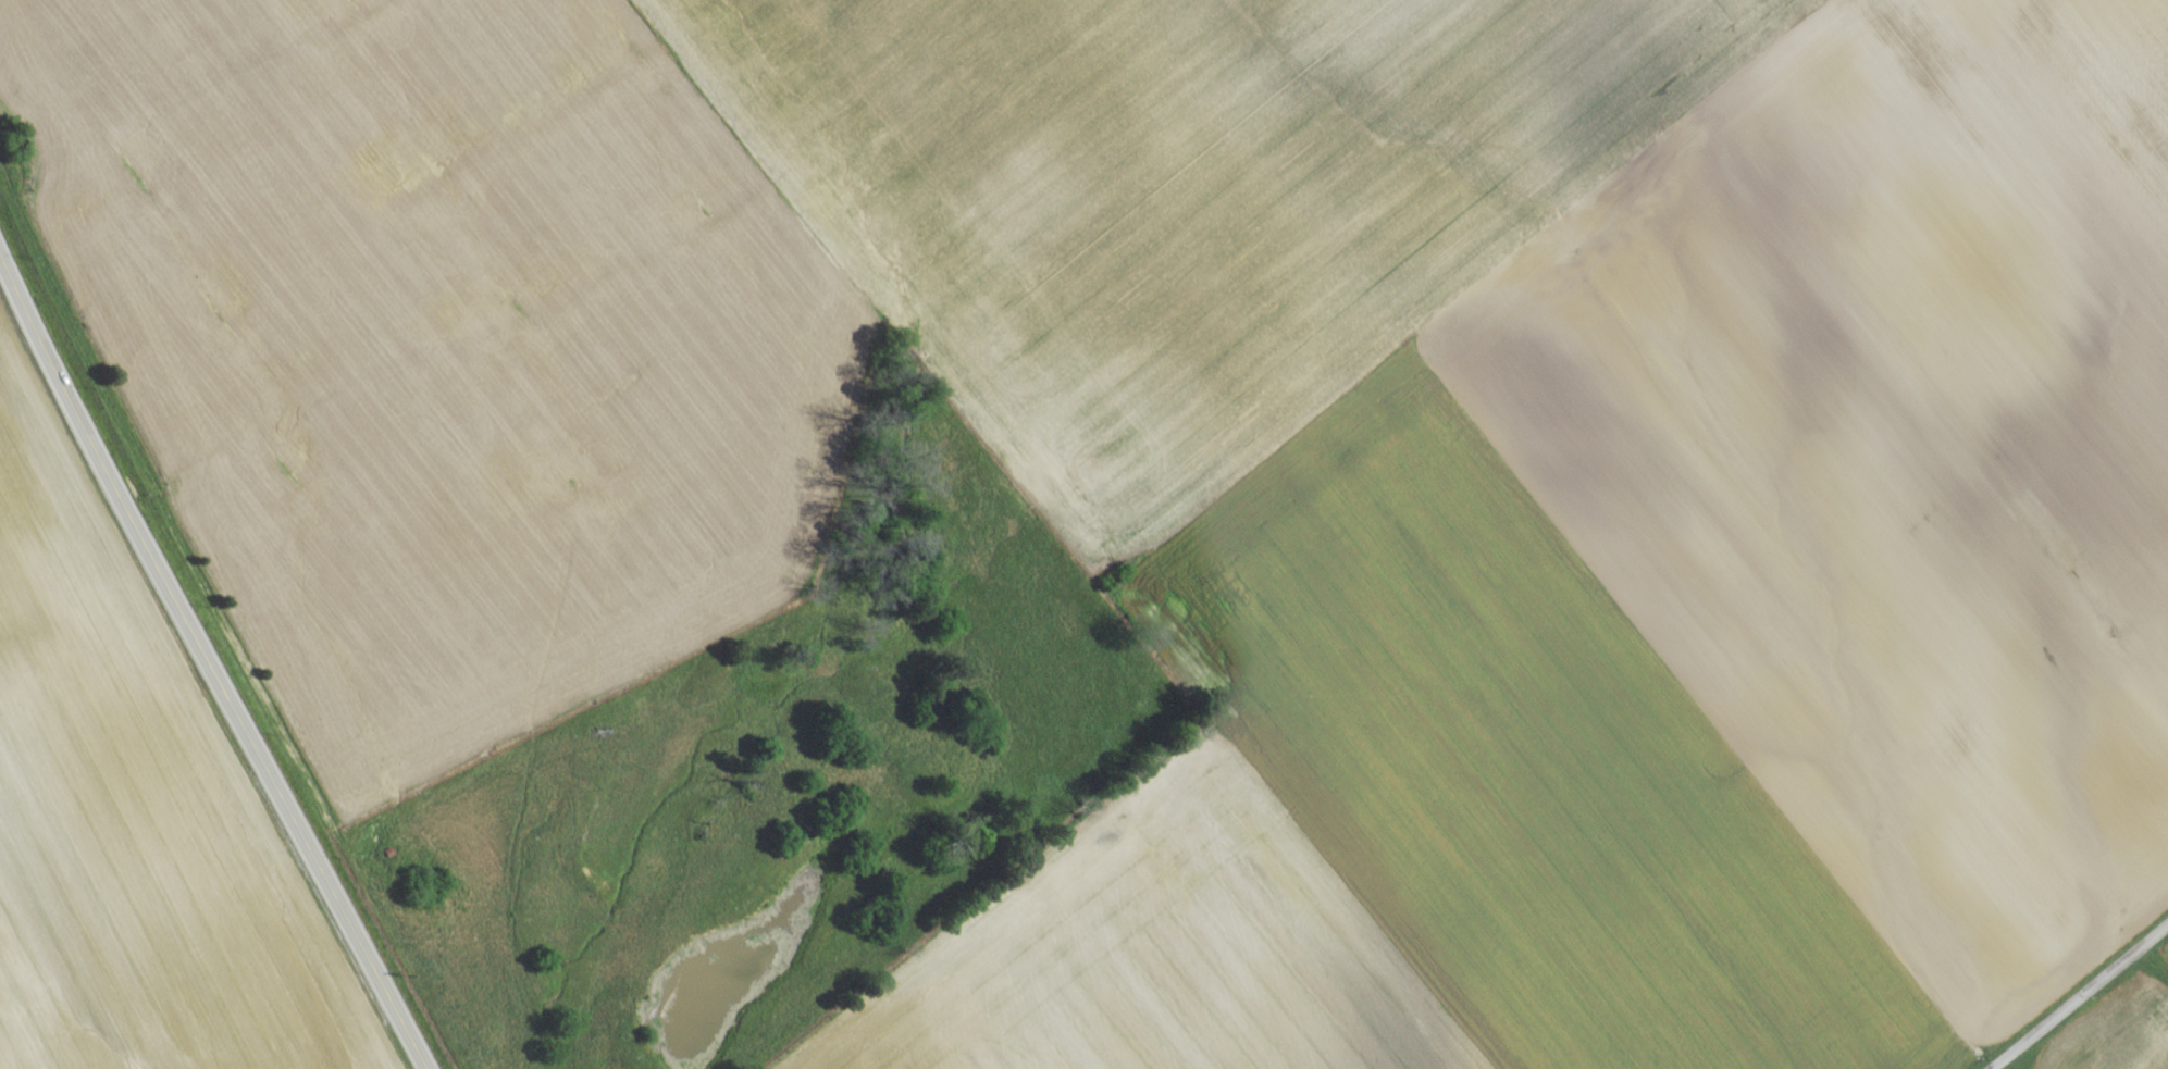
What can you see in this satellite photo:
road: (206, 668)
road: (2081, 998)

